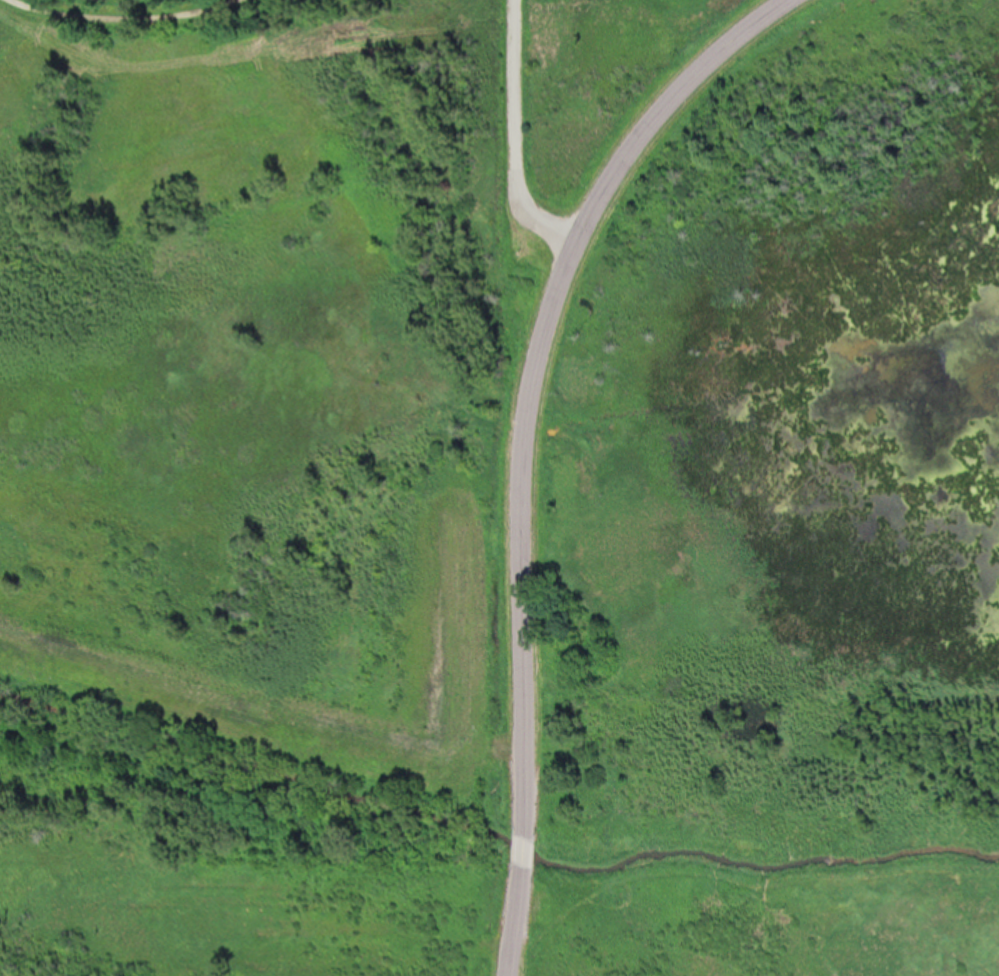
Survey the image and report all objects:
road: (113, 13)
road: (514, 141)
road: (524, 440)

